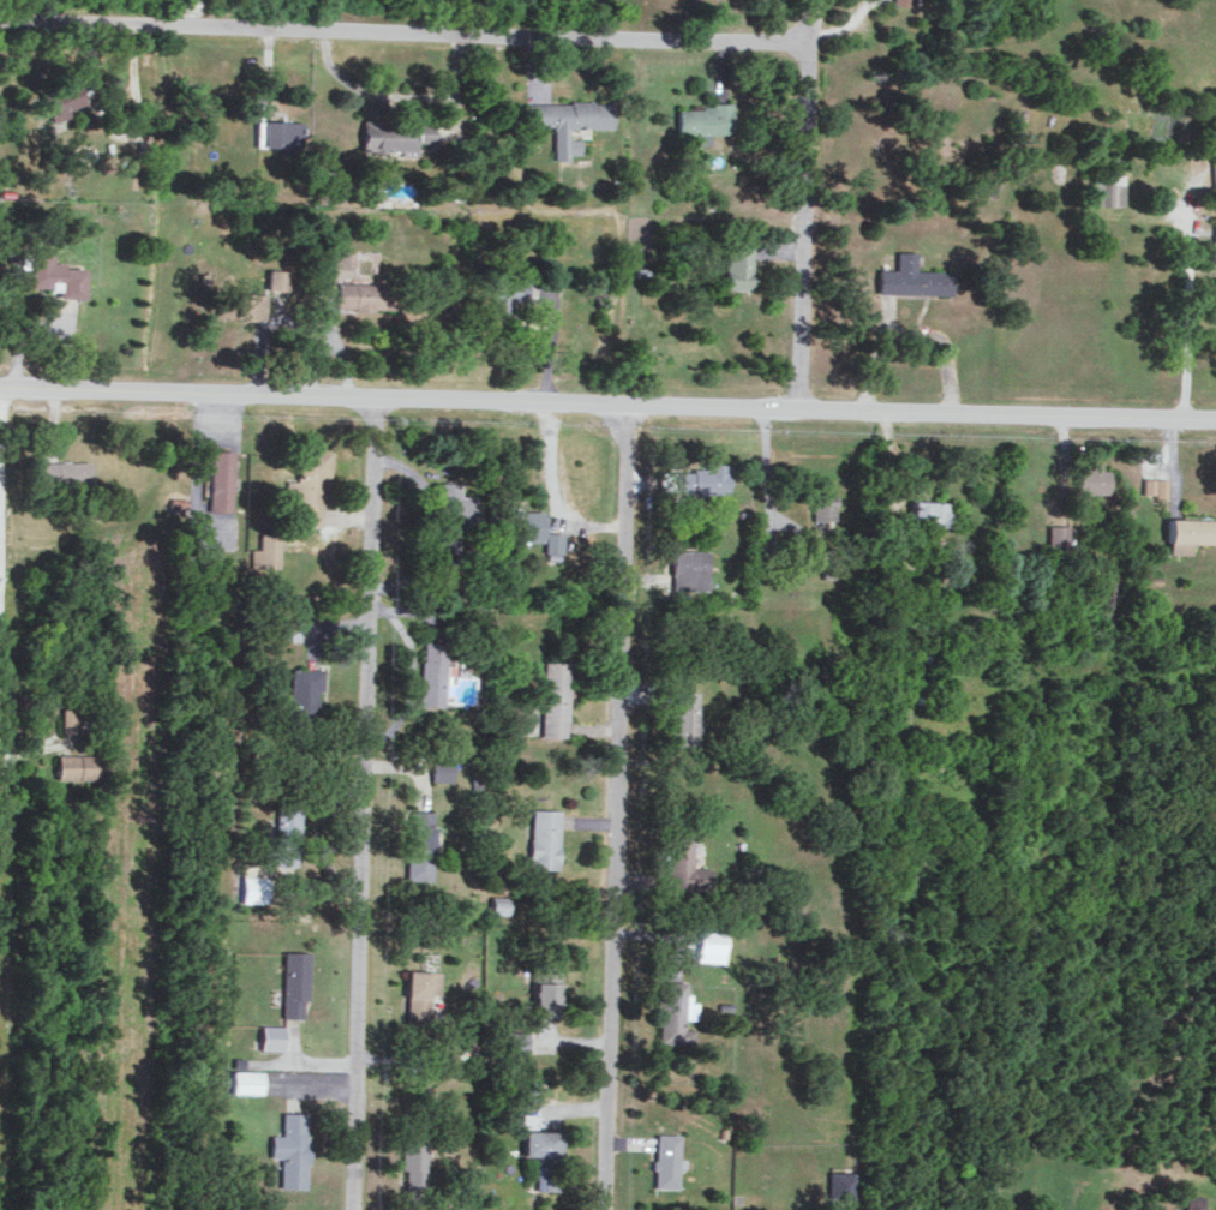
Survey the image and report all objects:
building: (906, 1)
road: (486, 34)
building: (59, 98)
building: (569, 120)
building: (705, 120)
building: (281, 131)
building: (395, 134)
building: (1214, 167)
building: (1110, 187)
road: (805, 204)
building: (1214, 238)
building: (737, 260)
building: (337, 264)
building: (53, 274)
building: (912, 276)
building: (277, 277)
building: (505, 290)
building: (364, 294)
building: (245, 302)
road: (1187, 322)
road: (607, 403)
road: (0, 435)
building: (65, 472)
building: (695, 478)
building: (1094, 478)
building: (221, 479)
building: (1155, 485)
building: (310, 486)
building: (823, 504)
building: (933, 513)
building: (453, 515)
building: (525, 525)
building: (1190, 532)
building: (1058, 534)
building: (553, 544)
building: (266, 550)
building: (689, 568)
building: (288, 628)
building: (433, 672)
building: (305, 689)
building: (557, 697)
building: (684, 717)
building: (71, 718)
road: (25, 756)
building: (82, 765)
building: (443, 768)
road: (364, 803)
road: (617, 807)
building: (286, 834)
building: (544, 838)
building: (420, 844)
building: (683, 862)
building: (254, 881)
building: (498, 904)
building: (712, 945)
building: (295, 982)
building: (544, 989)
building: (419, 996)
building: (676, 1013)
building: (272, 1036)
road: (288, 1064)
building: (245, 1080)
building: (292, 1149)
building: (414, 1151)
building: (543, 1155)
building: (666, 1158)
building: (841, 1182)
building: (1192, 1202)
building: (1019, 1209)

